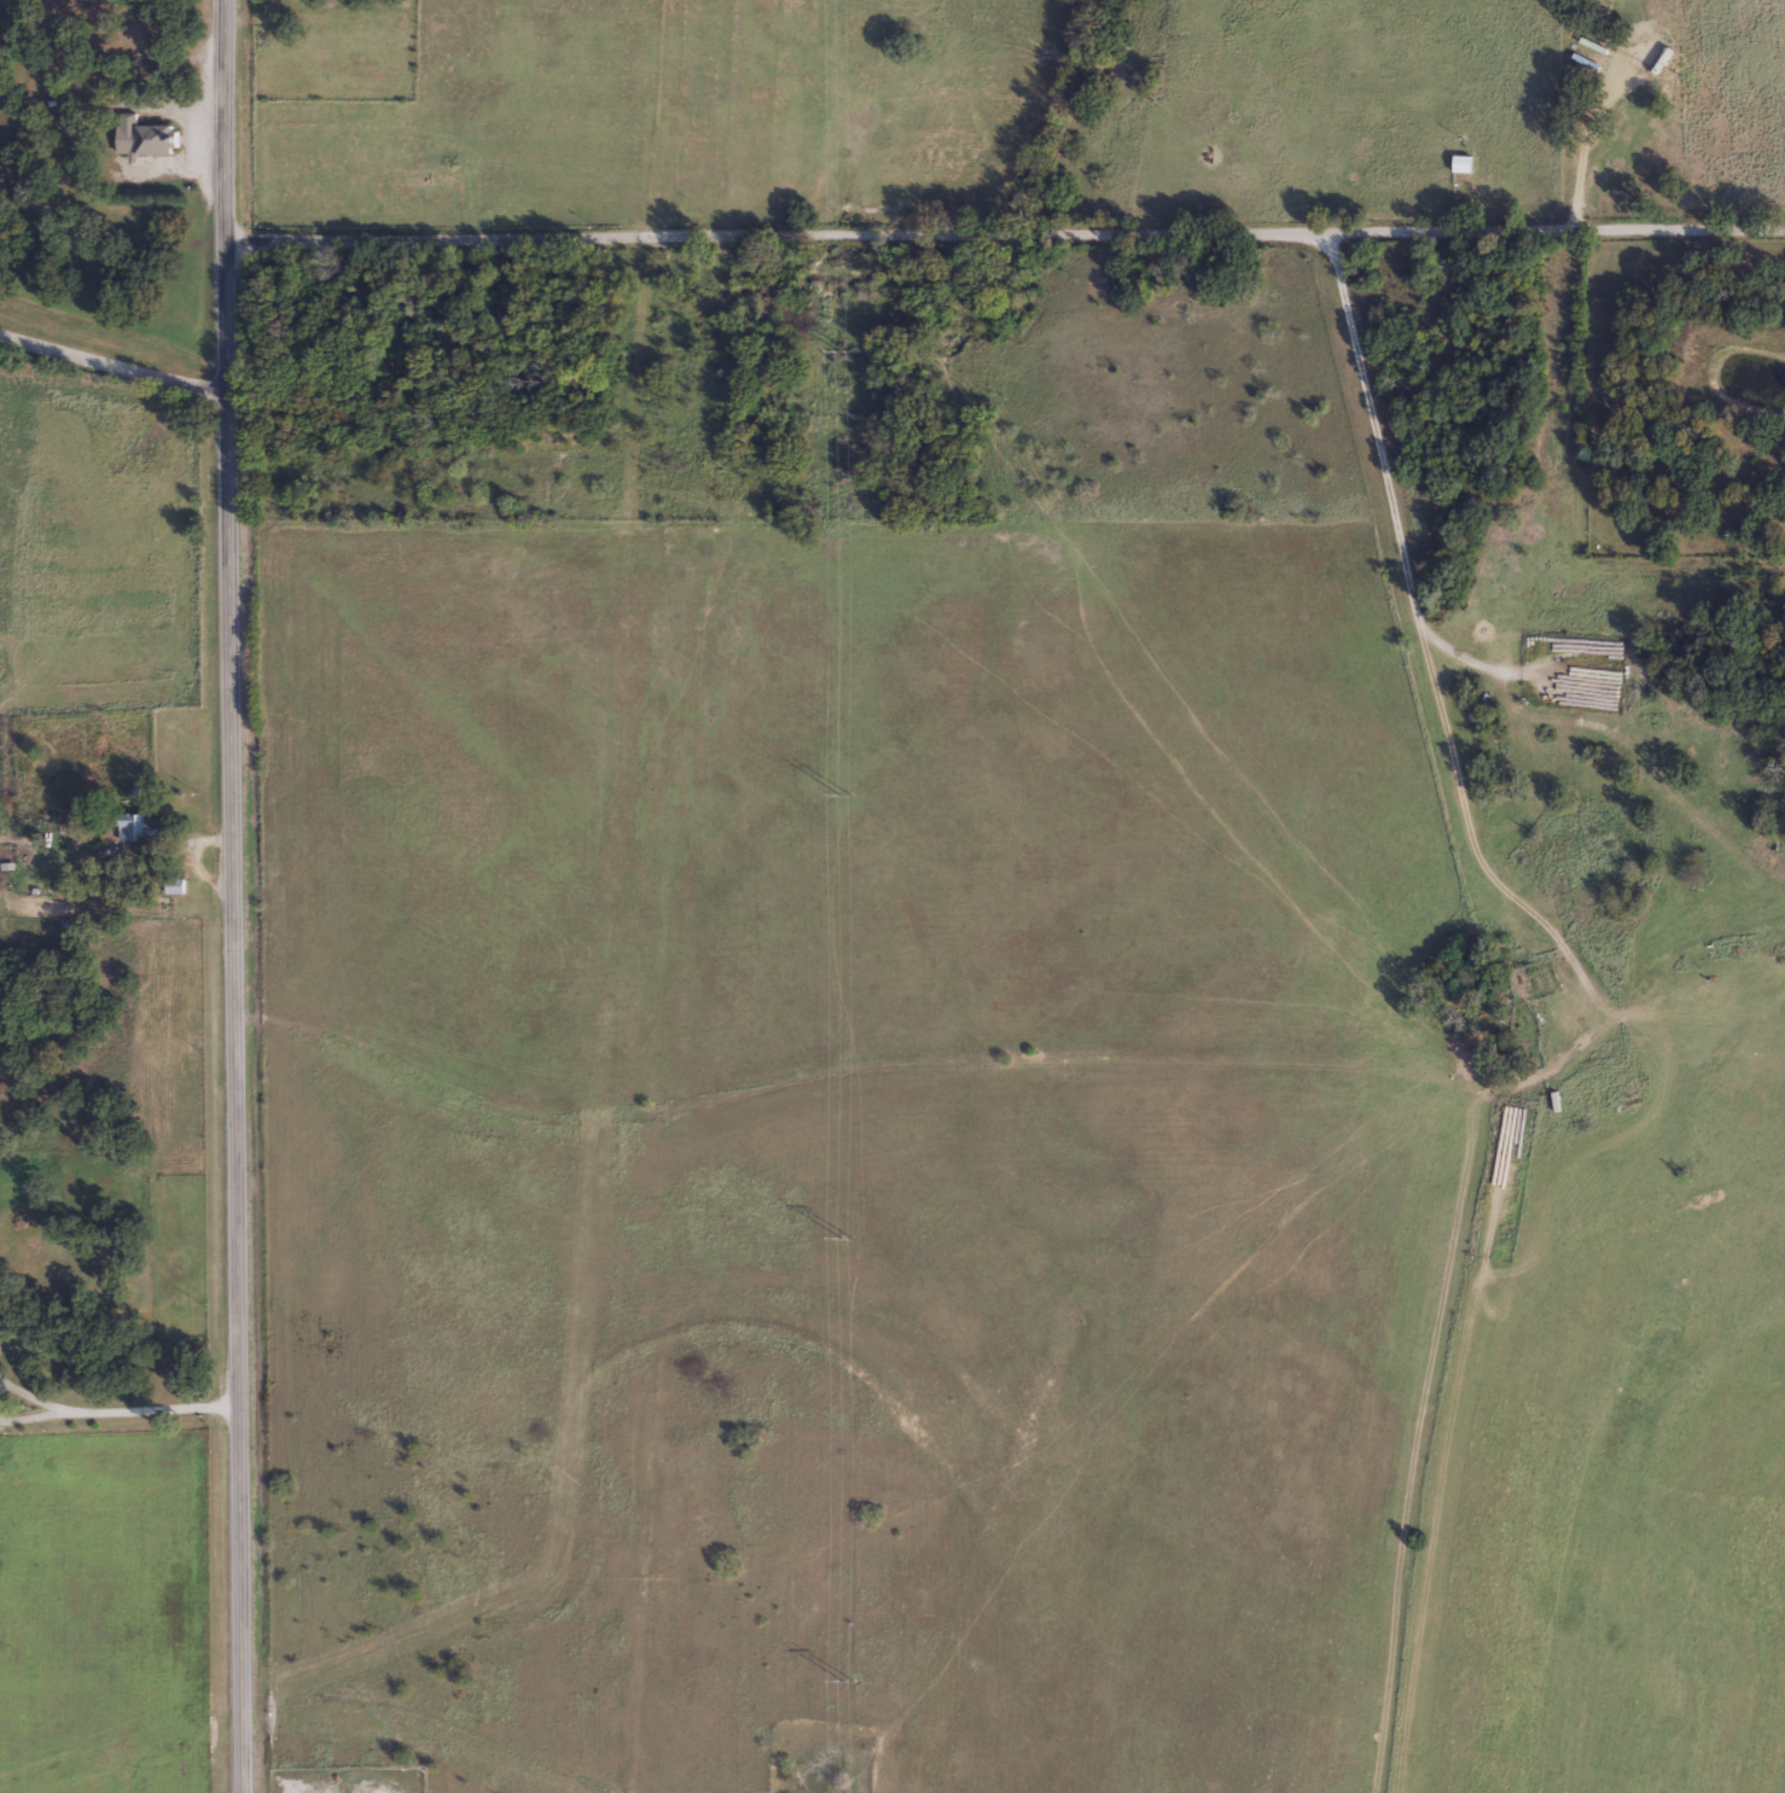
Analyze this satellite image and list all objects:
building: (141, 134)
building: (1459, 162)
road: (1002, 249)
road: (110, 366)
road: (1413, 594)
building: (134, 827)
road: (237, 896)
road: (118, 1409)

